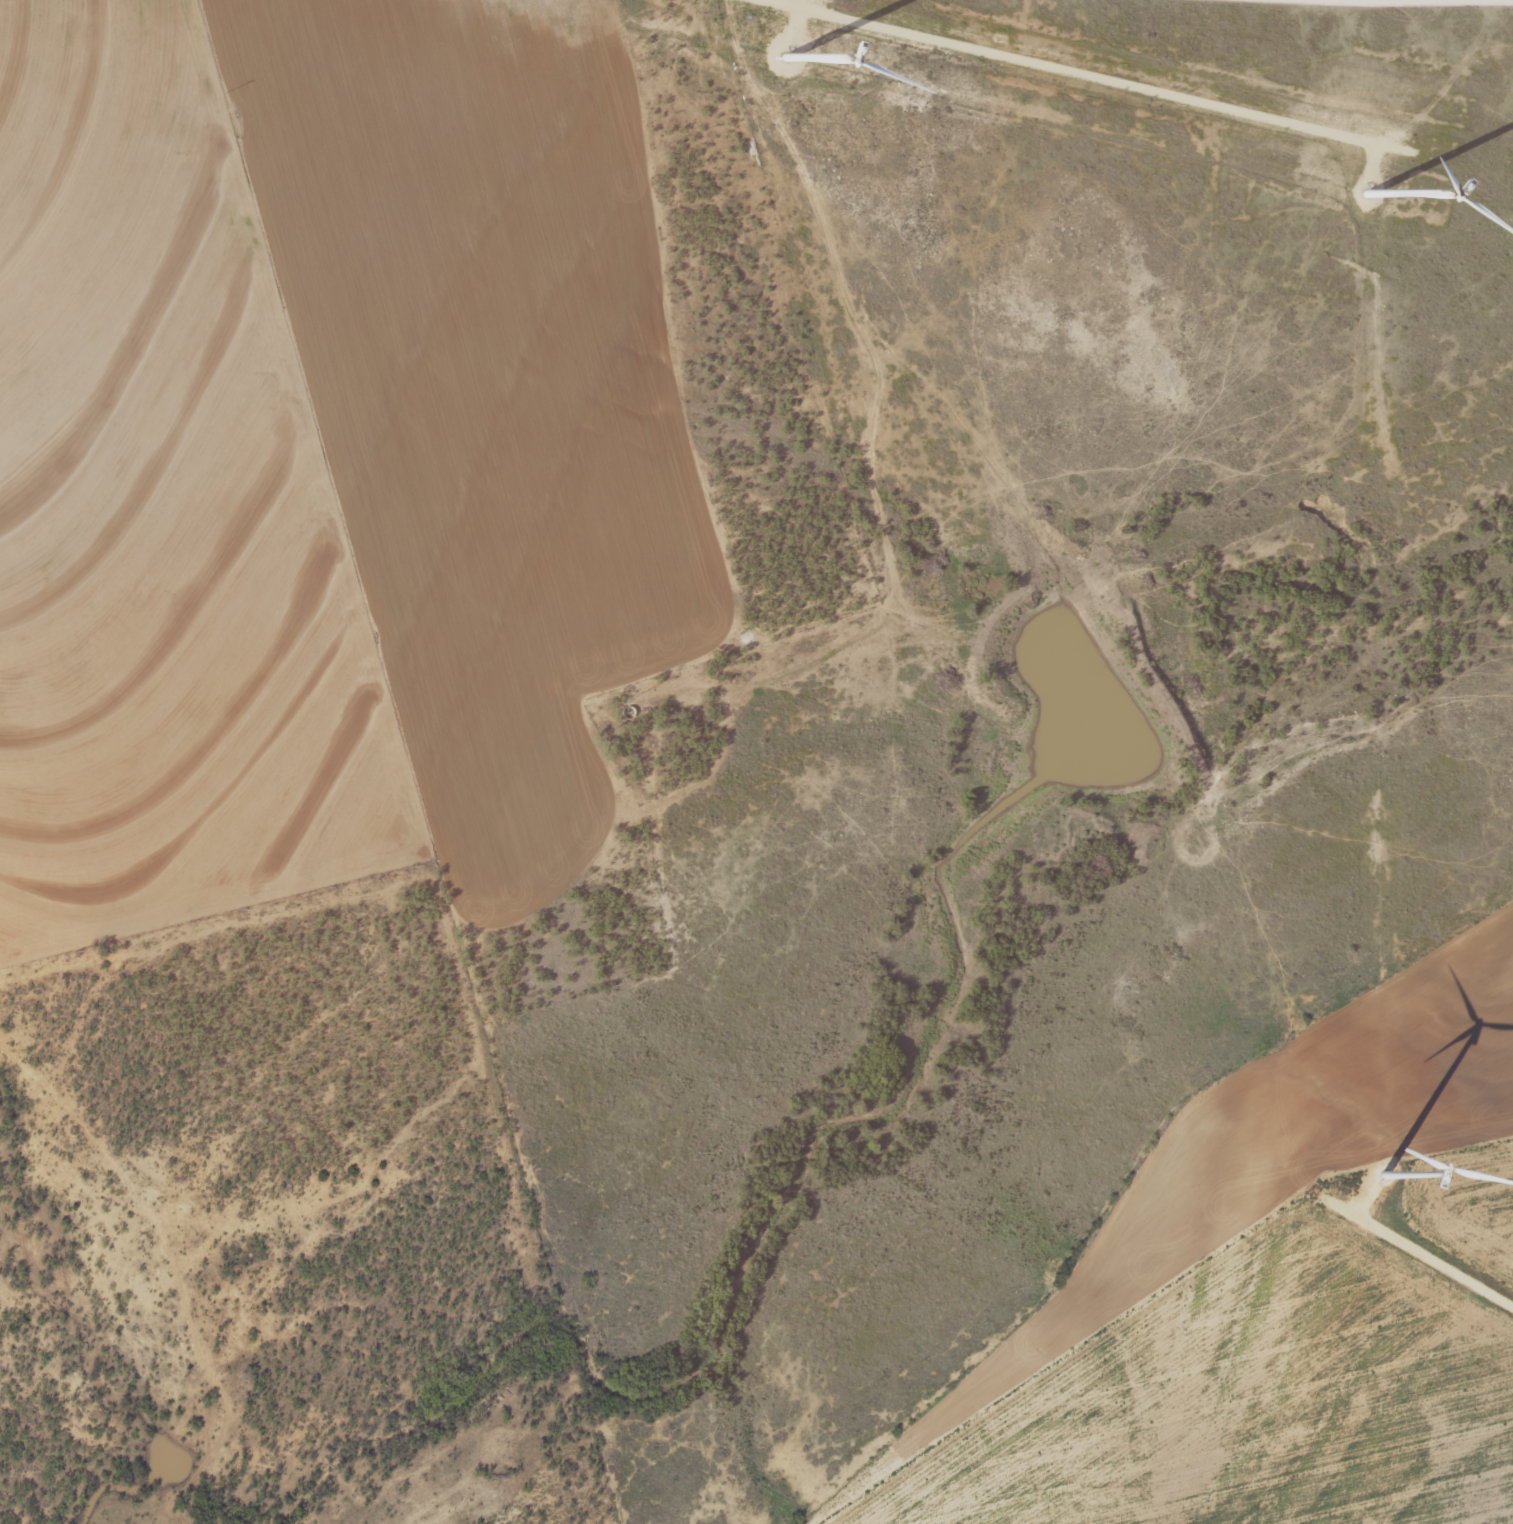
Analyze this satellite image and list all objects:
wind turbine: (786, 58)
wind turbine: (1370, 193)
wind turbine: (1386, 1174)

